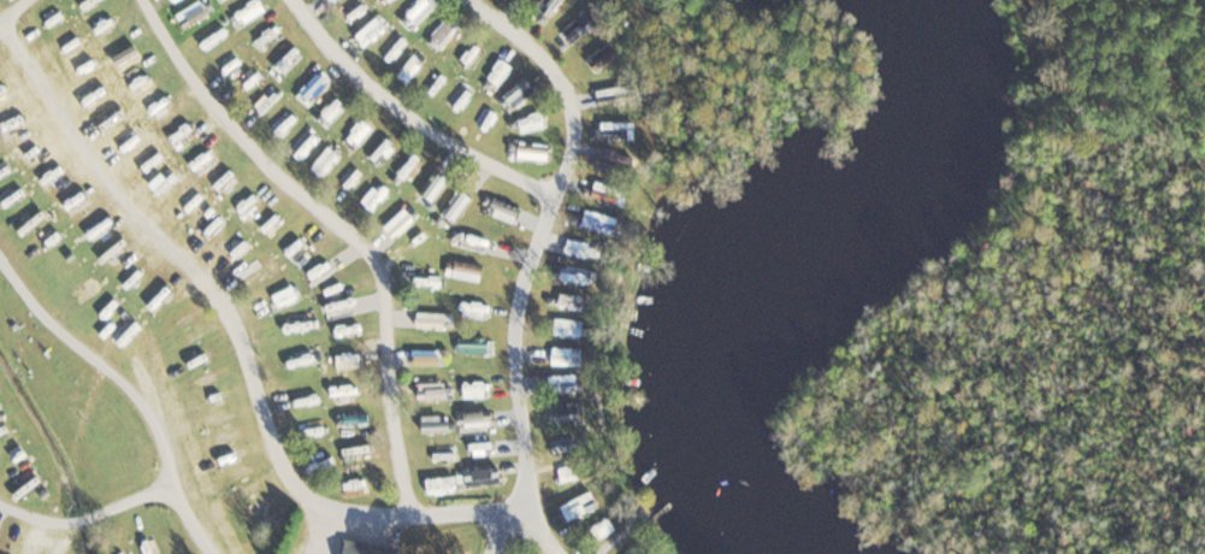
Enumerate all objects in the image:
building: (386, 1)
road: (6, 6)
building: (549, 7)
building: (419, 10)
building: (445, 33)
building: (571, 35)
building: (500, 72)
building: (518, 93)
road: (413, 117)
building: (532, 122)
building: (614, 129)
road: (214, 196)
building: (501, 210)
building: (598, 222)
building: (397, 223)
road: (343, 228)
road: (537, 255)
building: (466, 271)
building: (573, 275)
building: (568, 301)
building: (432, 320)
building: (567, 329)
road: (241, 332)
building: (472, 346)
building: (432, 356)
building: (563, 356)
road: (132, 385)
building: (561, 387)
building: (430, 389)
building: (561, 411)
building: (479, 476)
building: (438, 484)
building: (579, 509)
road: (88, 517)
road: (315, 528)
road: (542, 530)
building: (364, 548)

